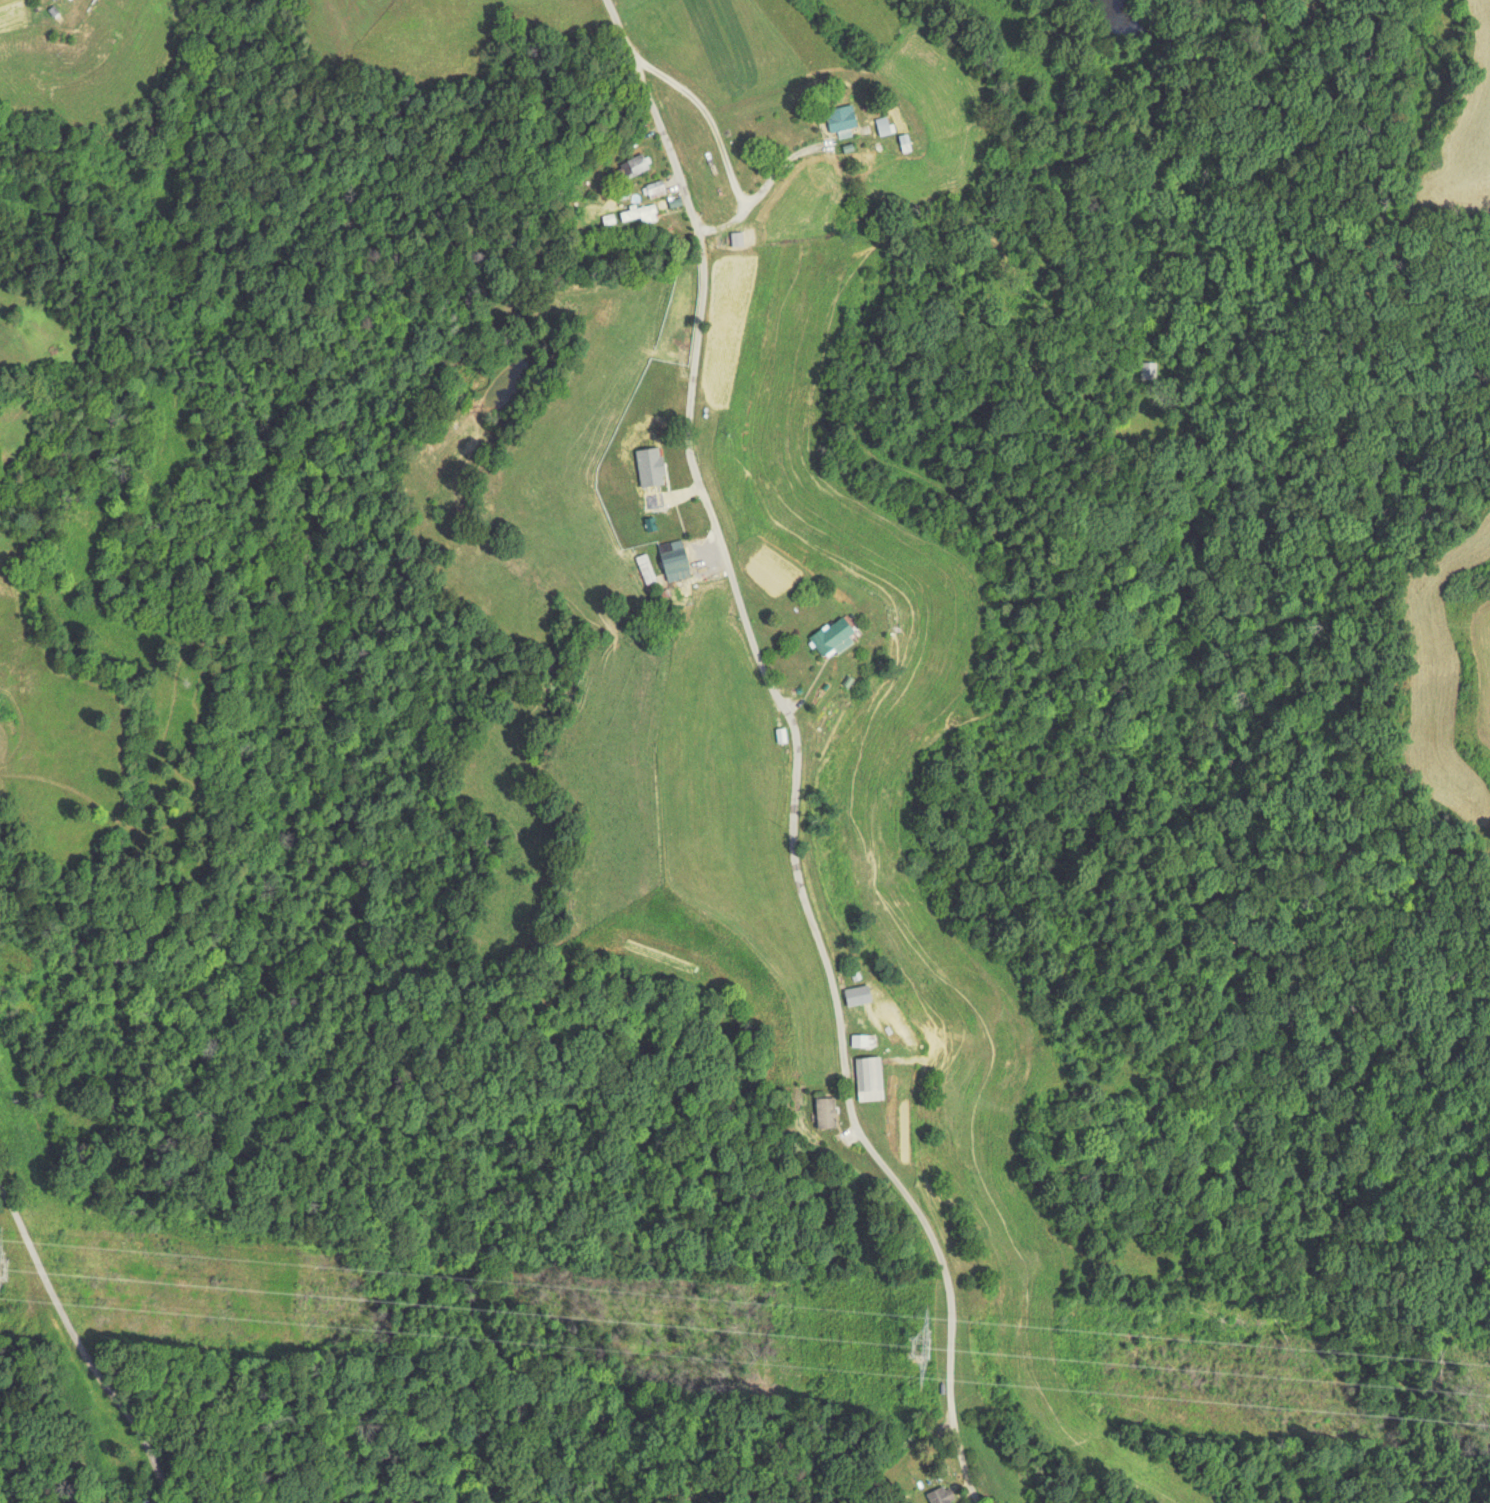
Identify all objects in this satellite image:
building: (840, 118)
building: (636, 165)
building: (655, 189)
building: (638, 212)
building: (1157, 372)
building: (673, 561)
building: (647, 571)
road: (734, 586)
building: (832, 636)
building: (862, 1040)
building: (868, 1079)
building: (824, 1113)
road: (951, 1289)
power tower: (921, 1345)
road: (84, 1346)
building: (940, 1494)

